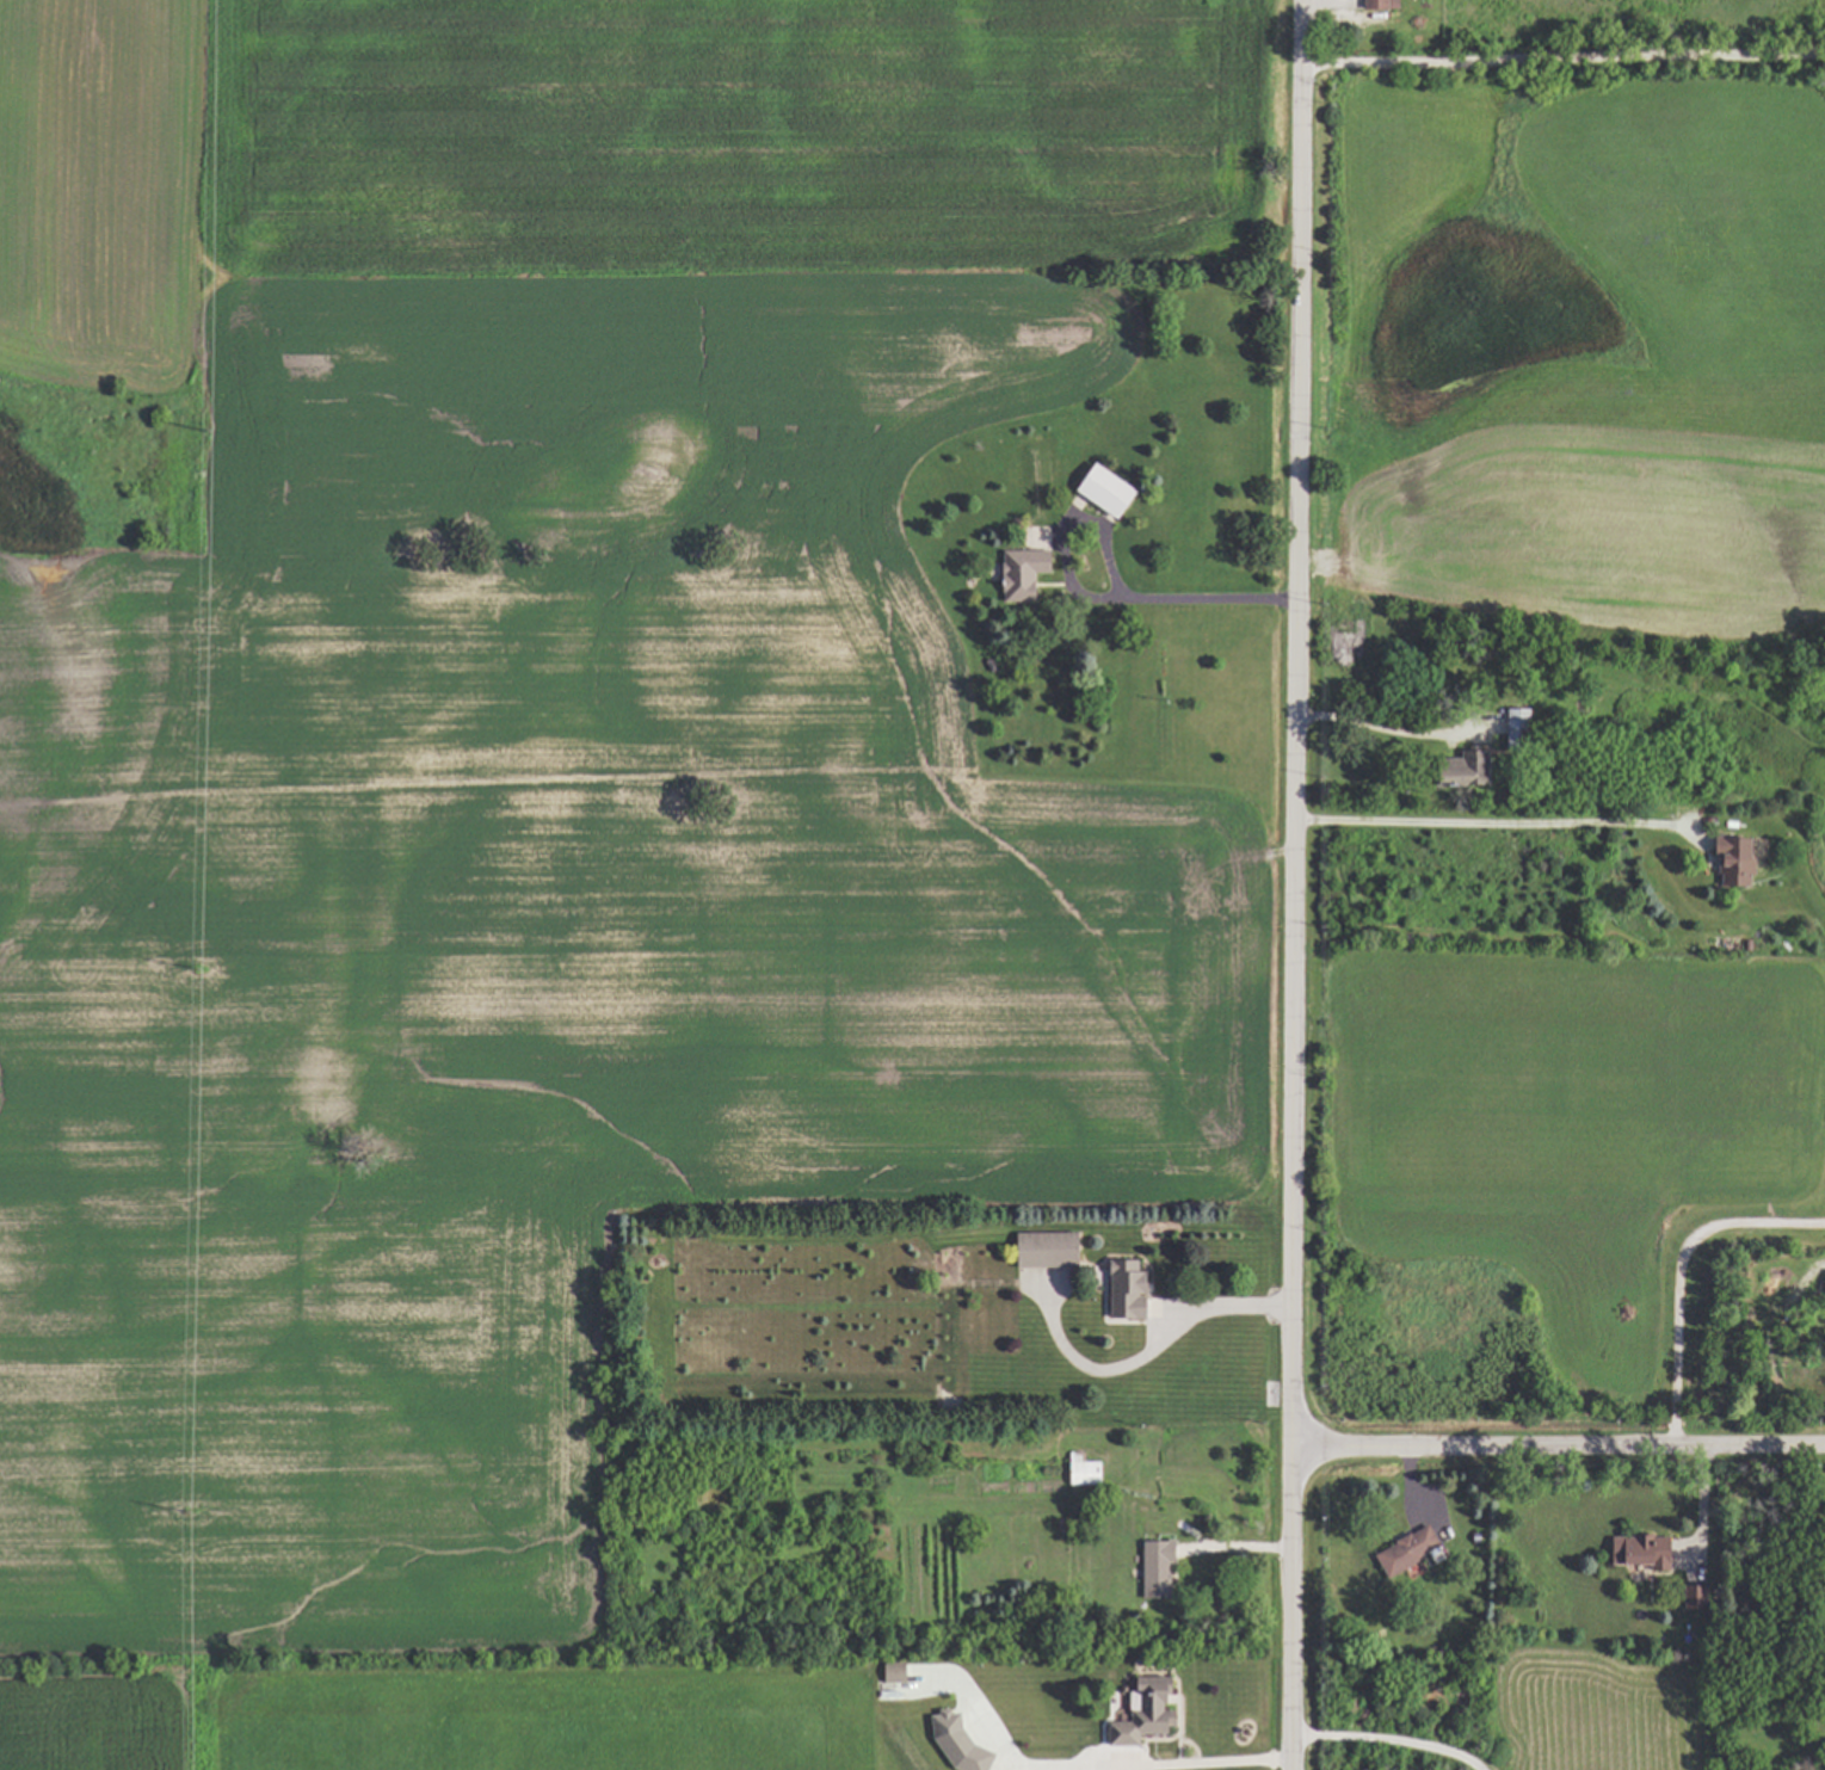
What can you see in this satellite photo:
building: (1374, 5)
road: (1562, 53)
building: (1109, 492)
building: (1035, 538)
building: (1019, 573)
road: (1093, 598)
road: (1379, 722)
building: (1509, 722)
building: (1451, 770)
road: (1481, 824)
building: (1727, 862)
road: (1296, 884)
building: (1042, 1248)
road: (1677, 1272)
building: (1823, 1284)
building: (1121, 1290)
road: (1227, 1303)
road: (1099, 1369)
road: (1559, 1448)
building: (1078, 1468)
road: (1700, 1511)
building: (1401, 1550)
building: (1635, 1550)
building: (1151, 1567)
building: (888, 1672)
building: (1137, 1710)
road: (1389, 1740)
road: (1000, 1751)
road: (1210, 1762)

